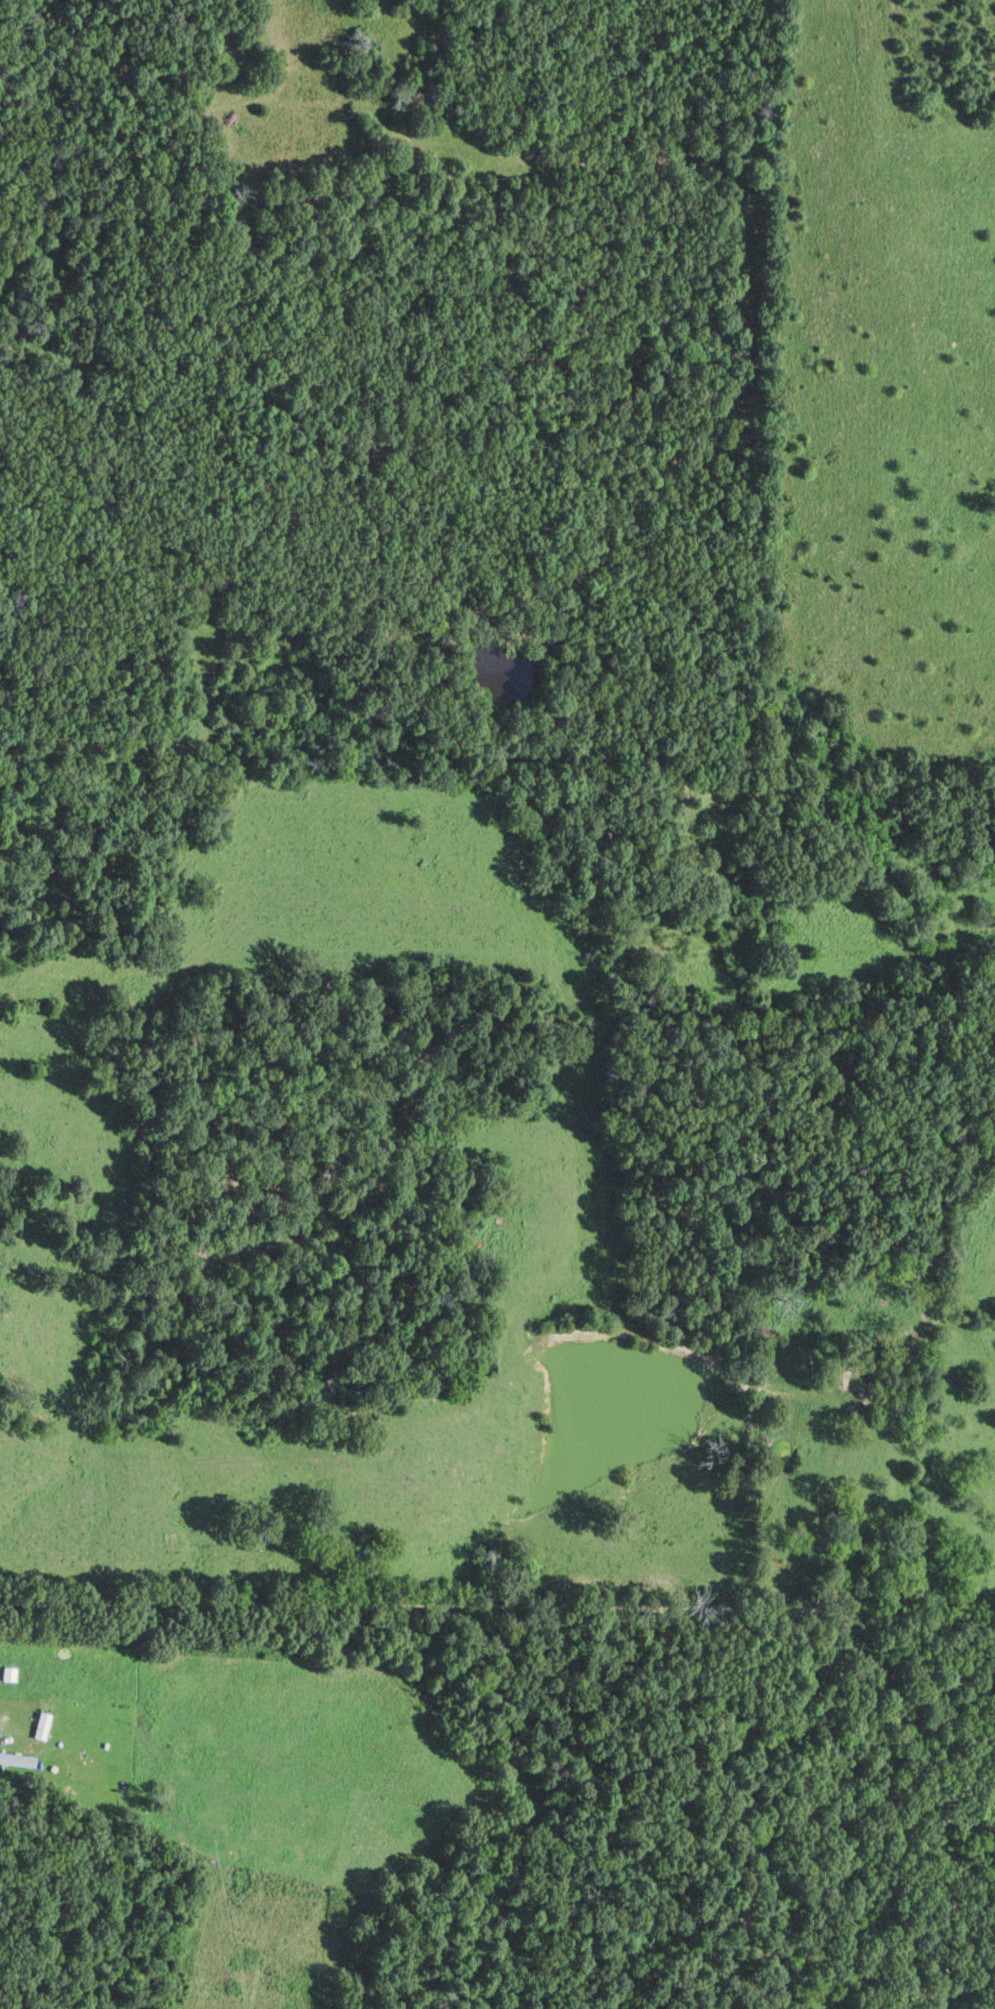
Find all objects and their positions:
building: (35, 1729)

